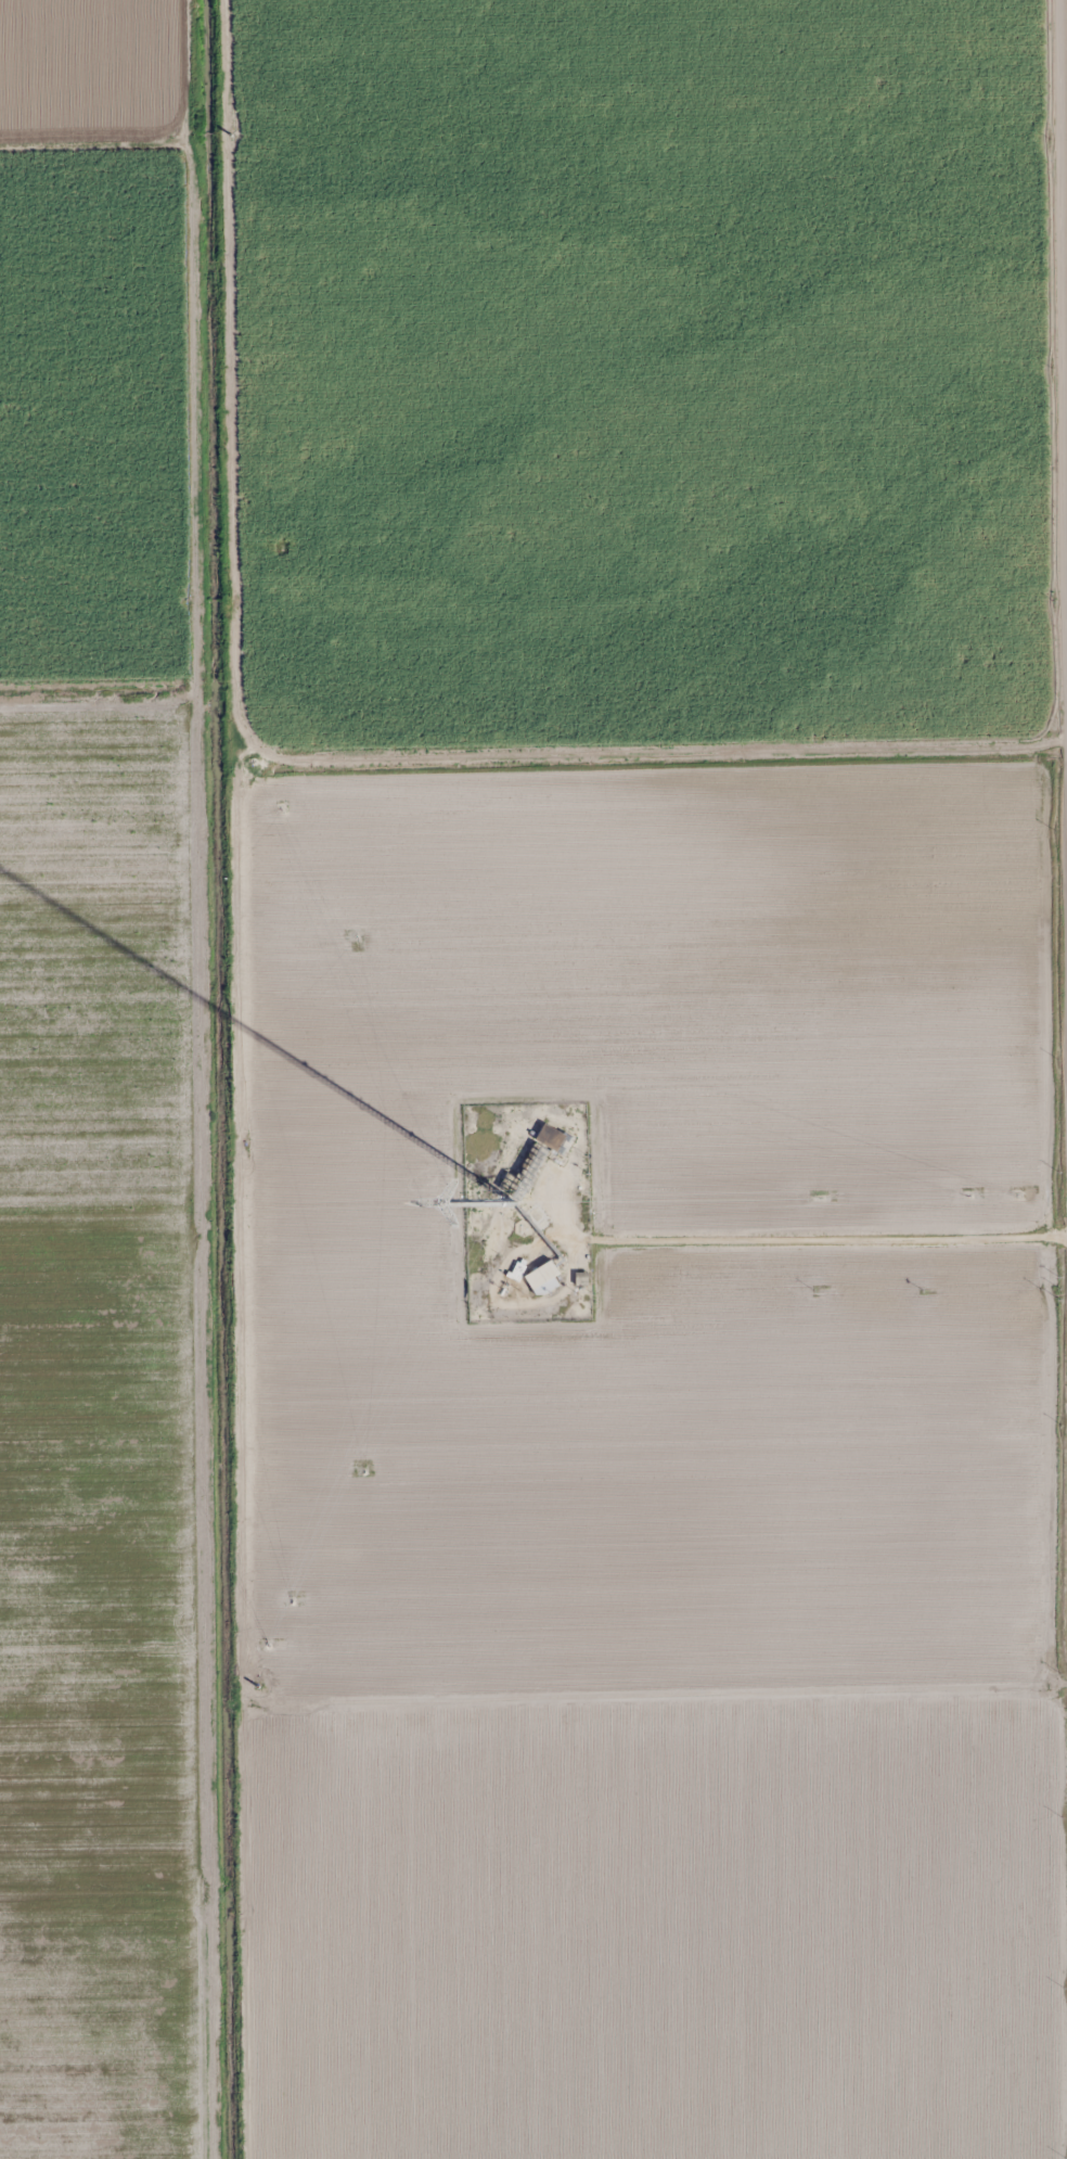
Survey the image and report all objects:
road: (1063, 621)
building: (552, 1137)
road: (760, 1240)
building: (544, 1278)

